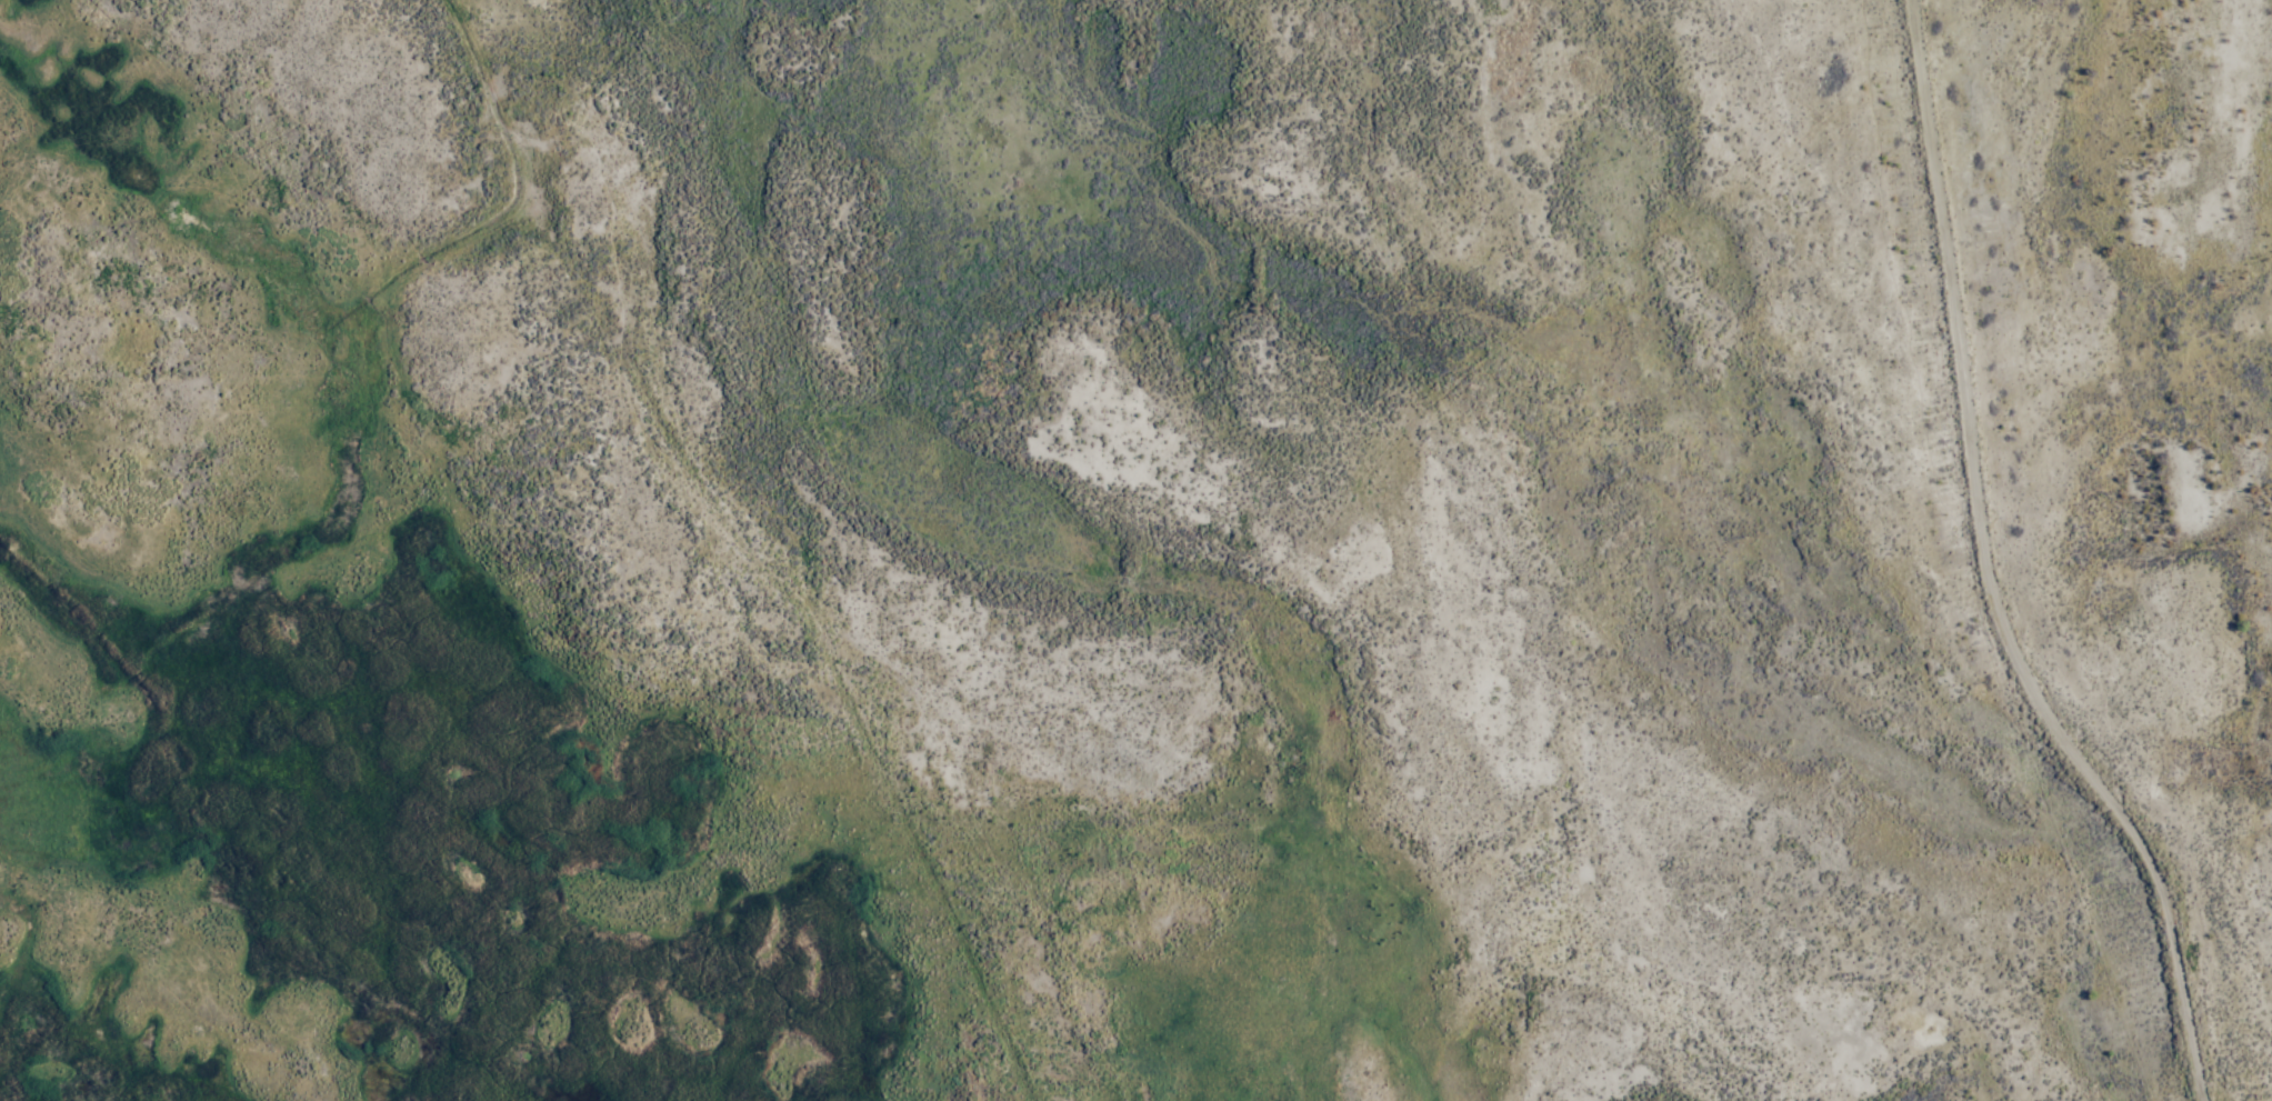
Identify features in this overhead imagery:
road: (1970, 573)

